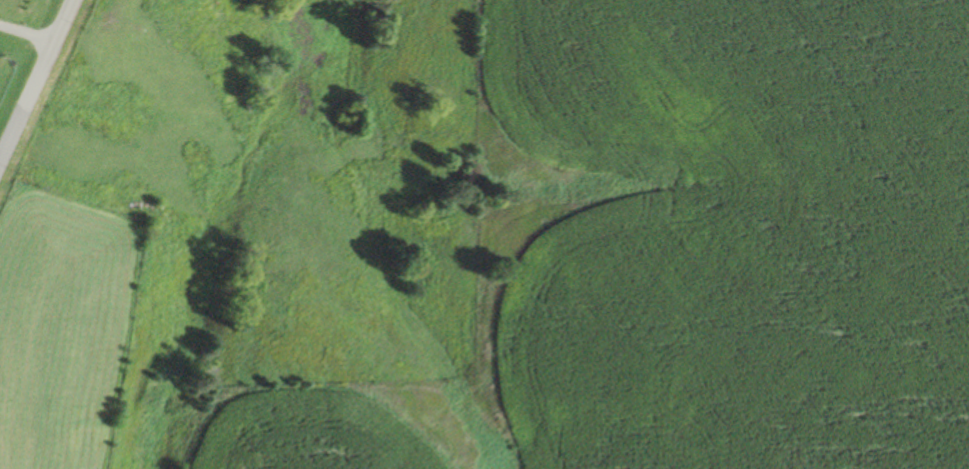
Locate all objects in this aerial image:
road: (25, 34)
road: (34, 77)

